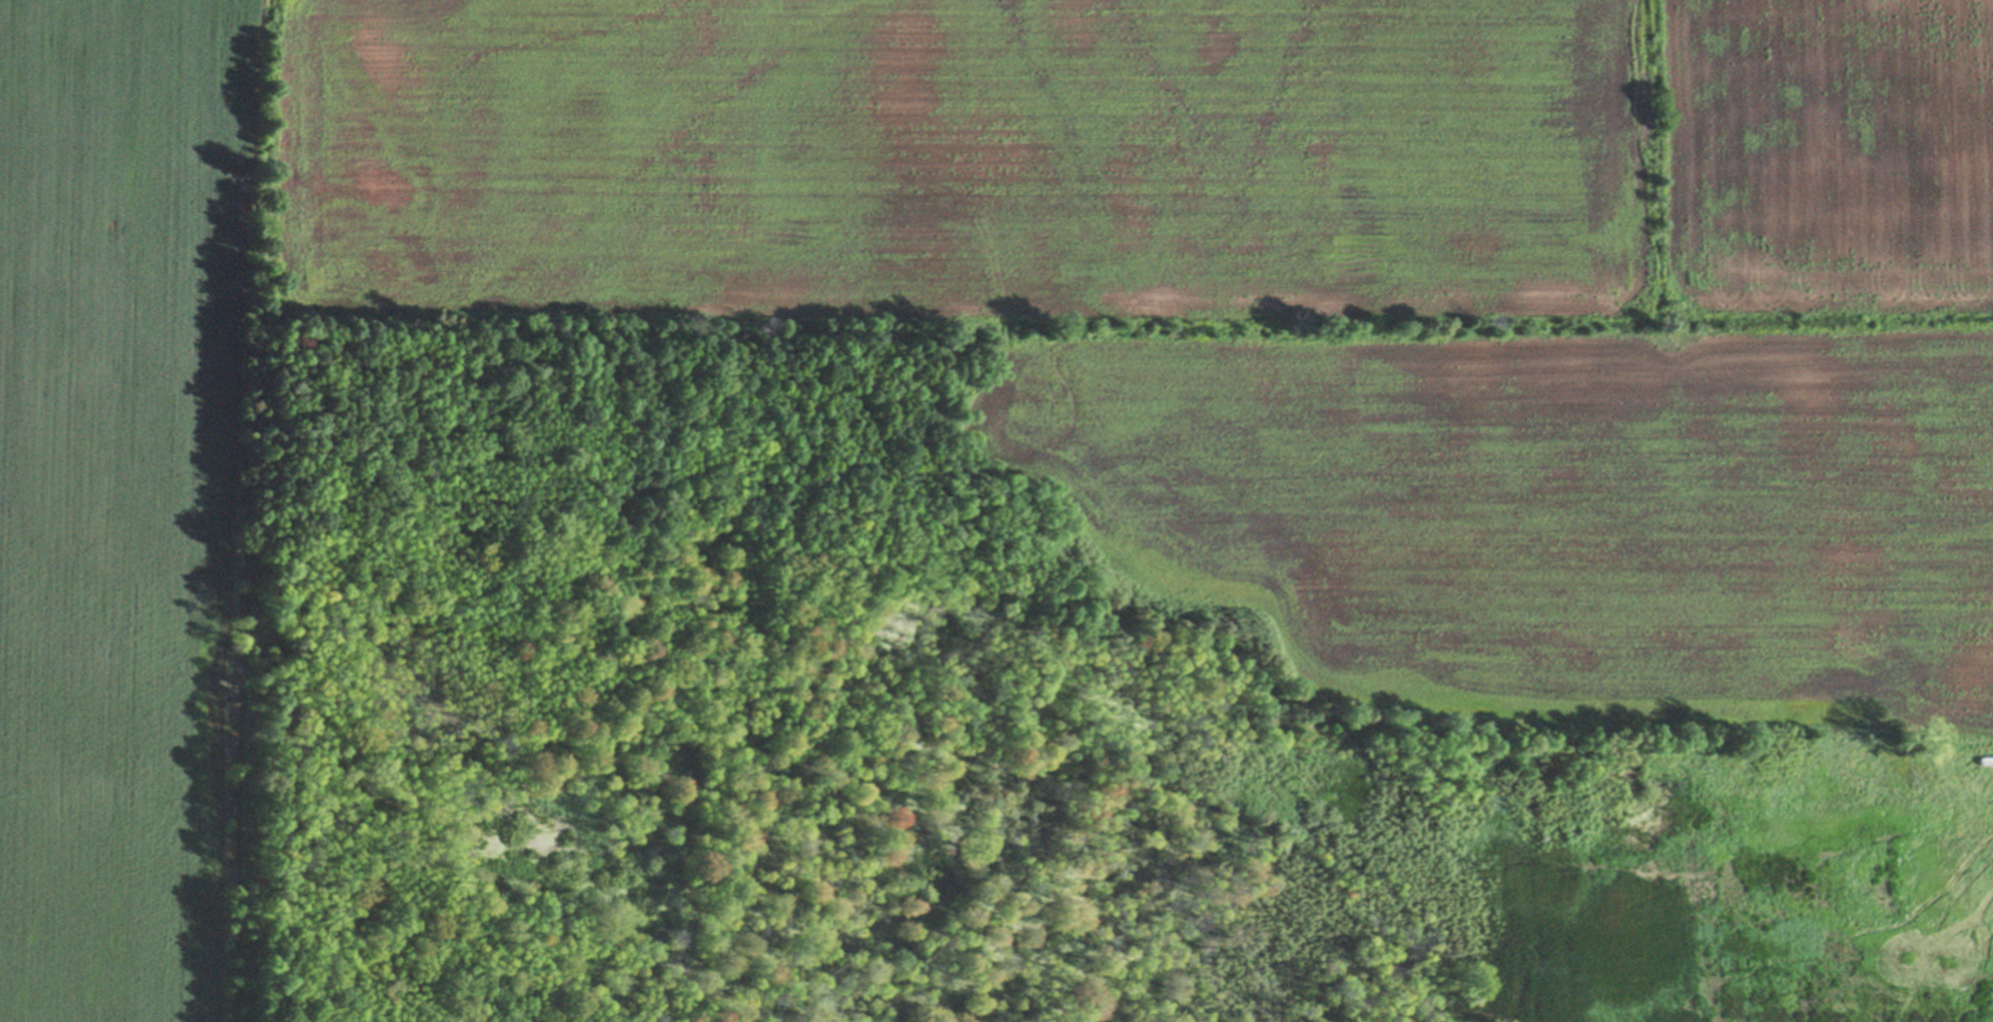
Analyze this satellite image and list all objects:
building: (1986, 759)

